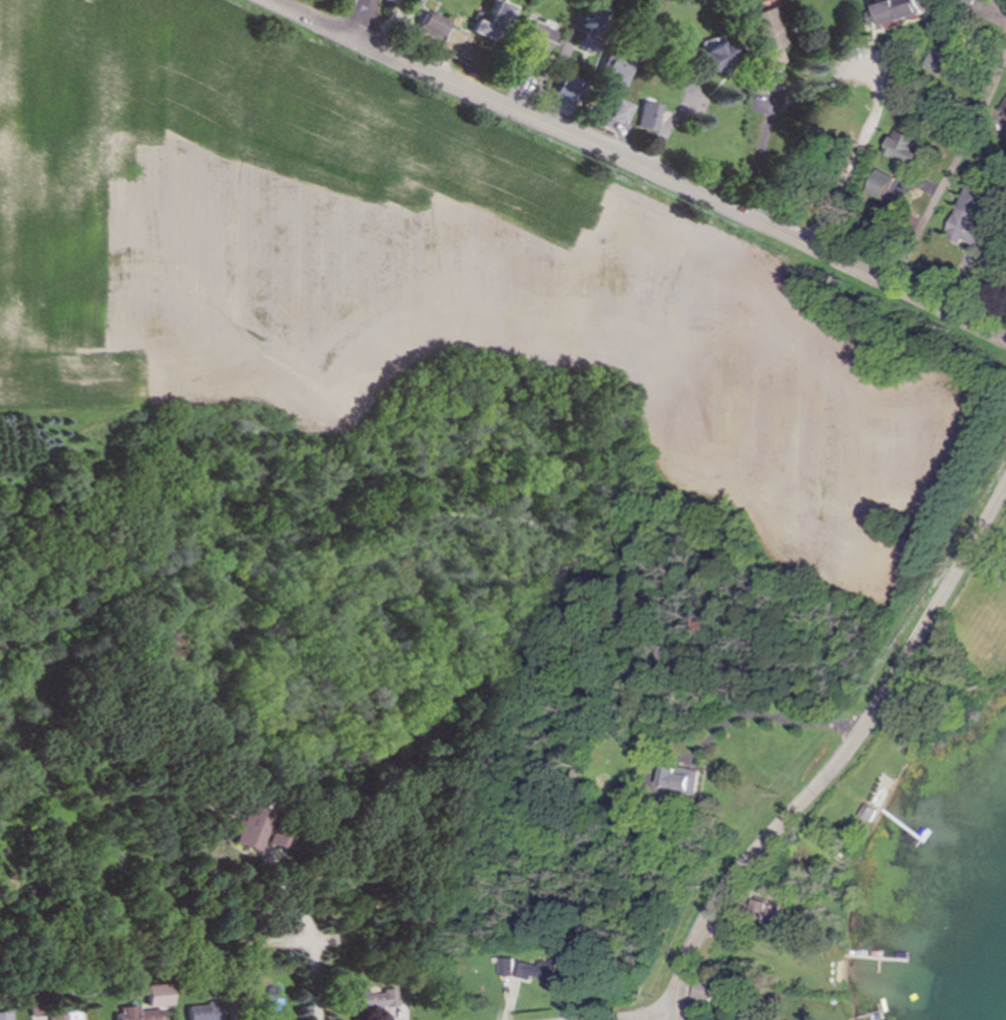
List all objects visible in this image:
building: (901, 10)
road: (313, 20)
road: (364, 20)
building: (495, 22)
building: (434, 24)
building: (597, 28)
building: (538, 36)
building: (766, 36)
building: (719, 56)
building: (937, 63)
building: (617, 68)
road: (562, 72)
road: (895, 81)
building: (565, 94)
building: (1003, 109)
building: (622, 111)
building: (649, 116)
road: (668, 122)
road: (760, 147)
building: (904, 147)
road: (950, 173)
building: (888, 188)
road: (682, 190)
building: (967, 218)
road: (771, 717)
road: (842, 758)
building: (680, 779)
building: (867, 813)
building: (254, 823)
building: (280, 839)
building: (764, 911)
road: (314, 940)
building: (504, 967)
building: (539, 972)
building: (704, 991)
building: (161, 995)
building: (373, 999)
building: (208, 1011)
building: (141, 1014)
building: (6, 1016)
building: (68, 1016)
road: (648, 1016)

